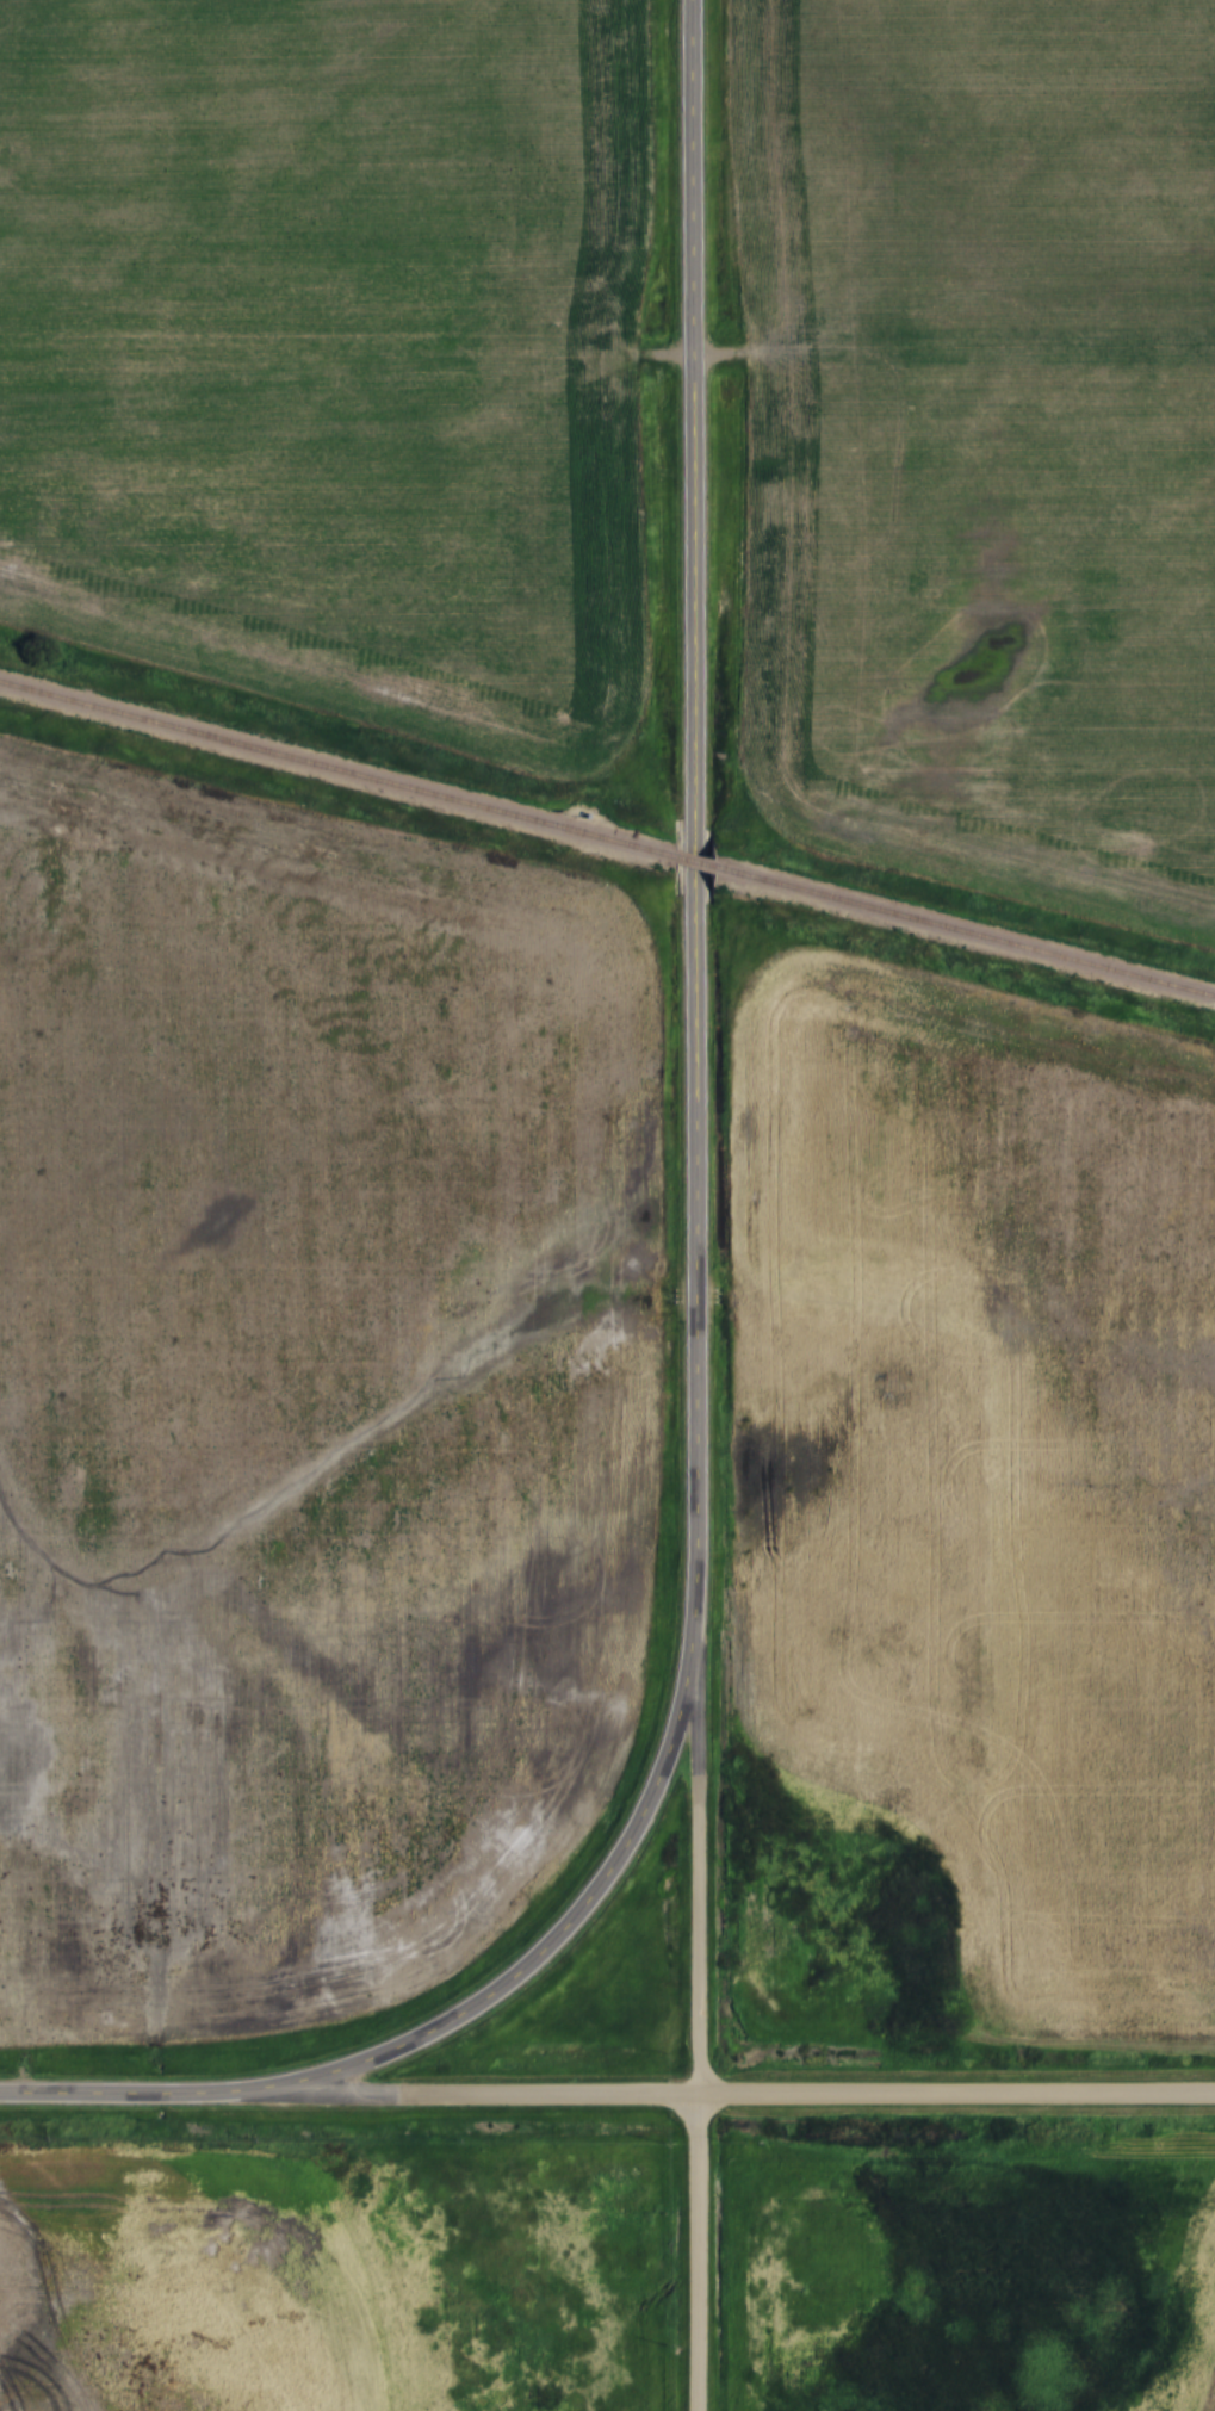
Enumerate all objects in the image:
railway: (336, 769)
road: (694, 818)
railway: (693, 861)
railway: (963, 930)
road: (695, 1864)
road: (531, 1963)
road: (93, 2091)
road: (440, 2091)
road: (954, 2091)
road: (694, 2251)
crop: (179, 2289)

